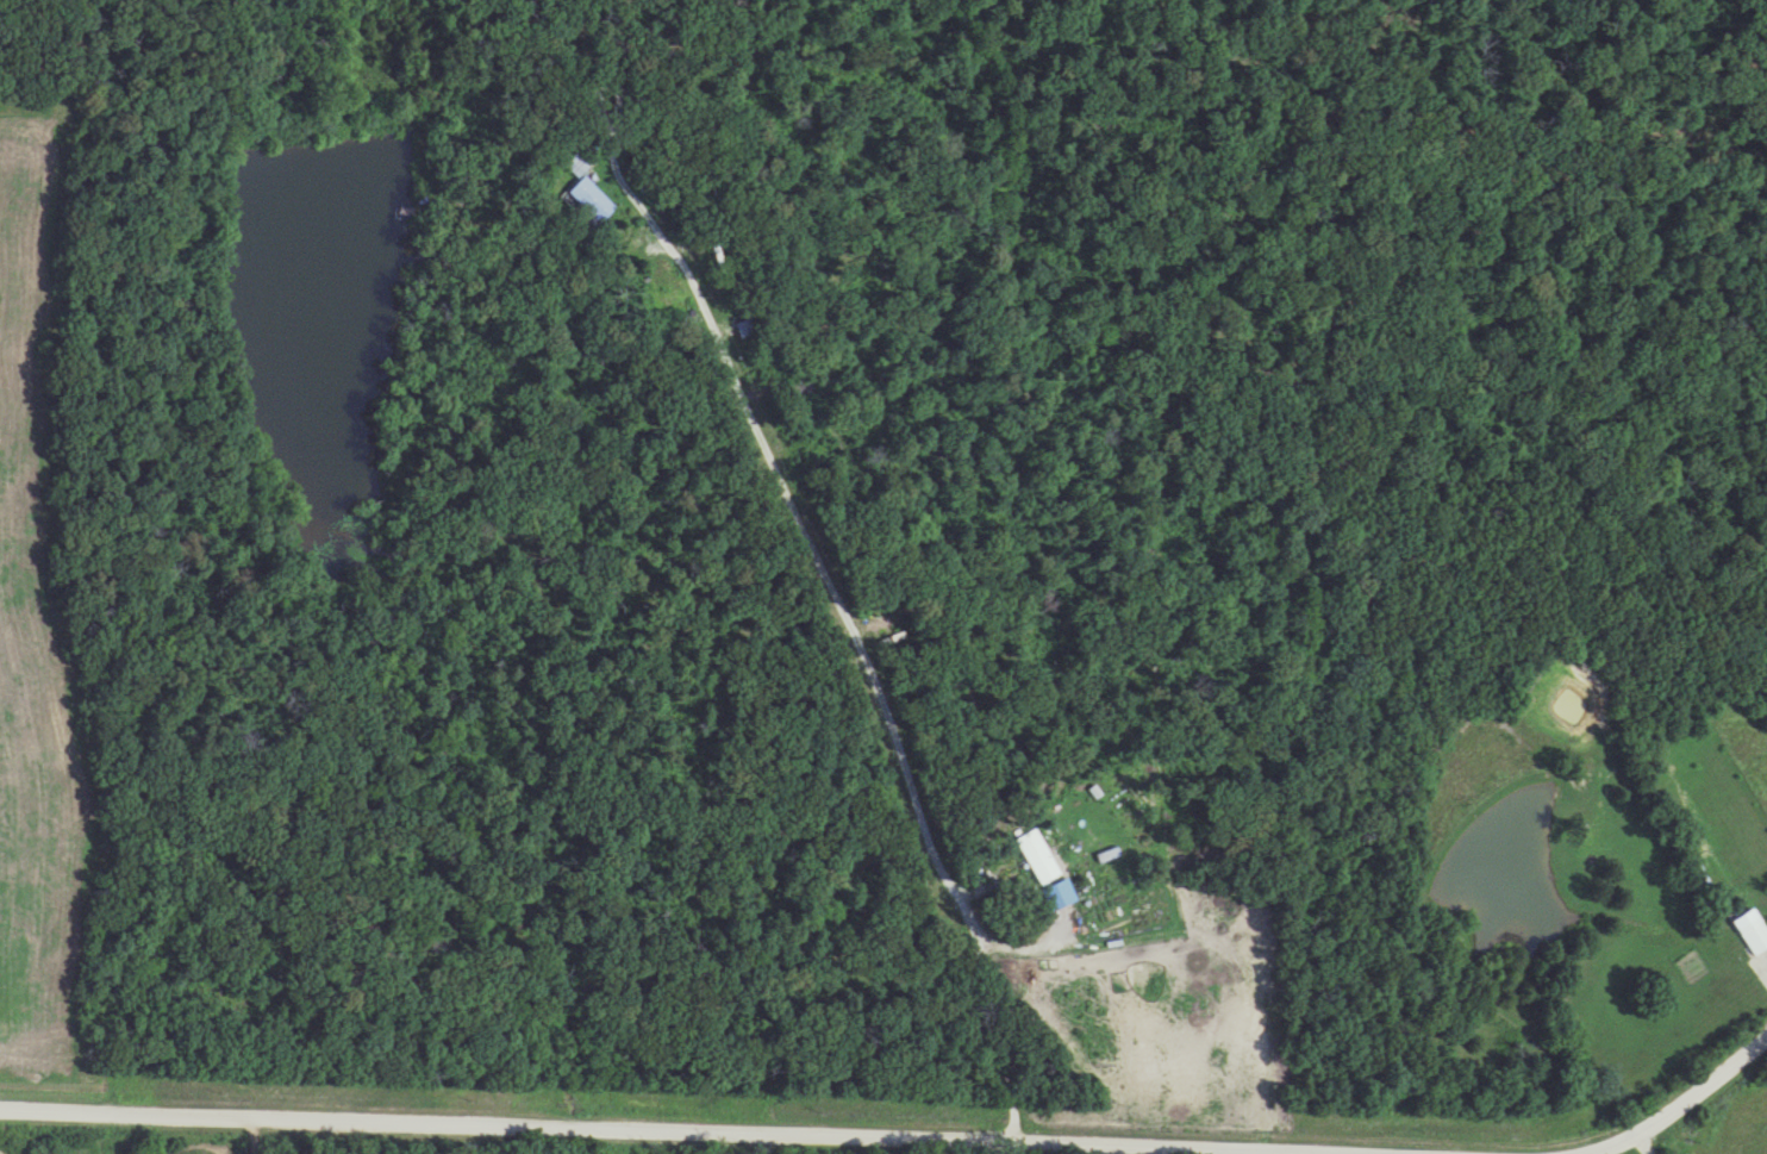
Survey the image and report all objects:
building: (583, 197)
building: (748, 329)
road: (869, 673)
building: (1748, 932)
road: (1682, 1105)
road: (597, 1130)
road: (1643, 1144)

